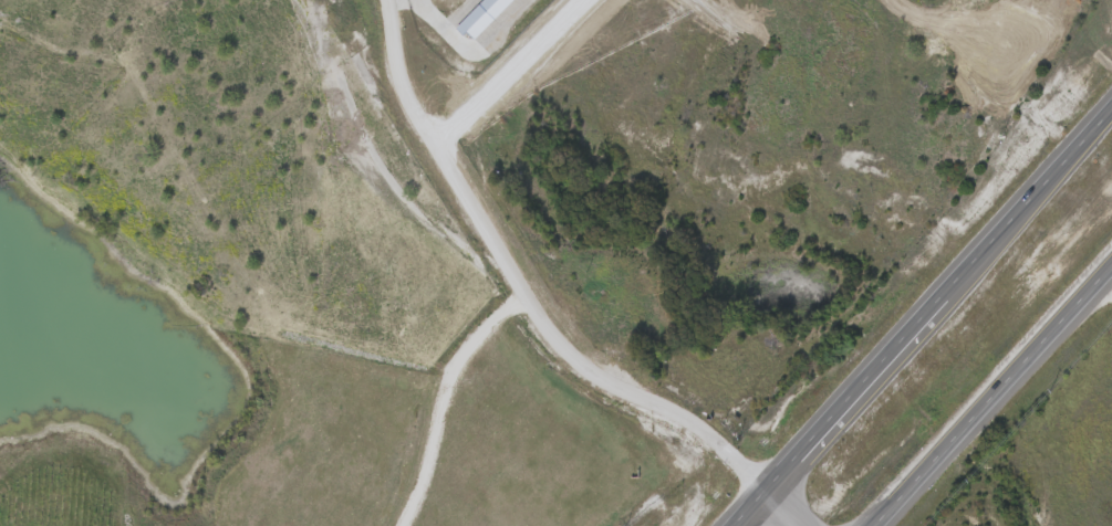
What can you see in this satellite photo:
road: (515, 73)
road: (1105, 280)
road: (539, 306)
road: (924, 319)
road: (443, 393)
road: (989, 393)

